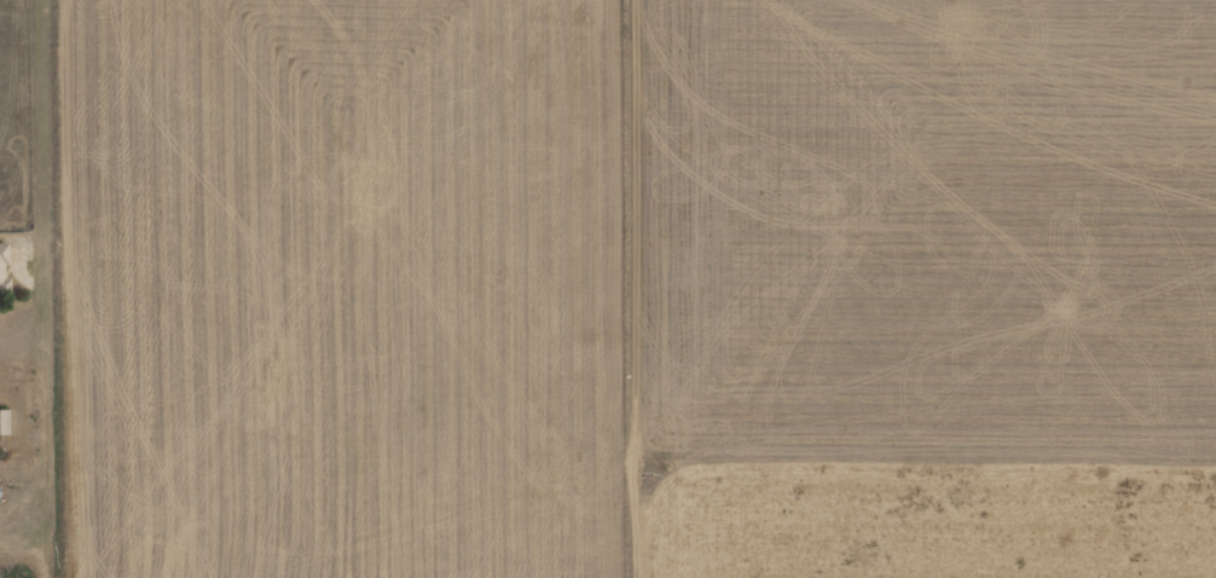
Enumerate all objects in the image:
road: (44, 233)

